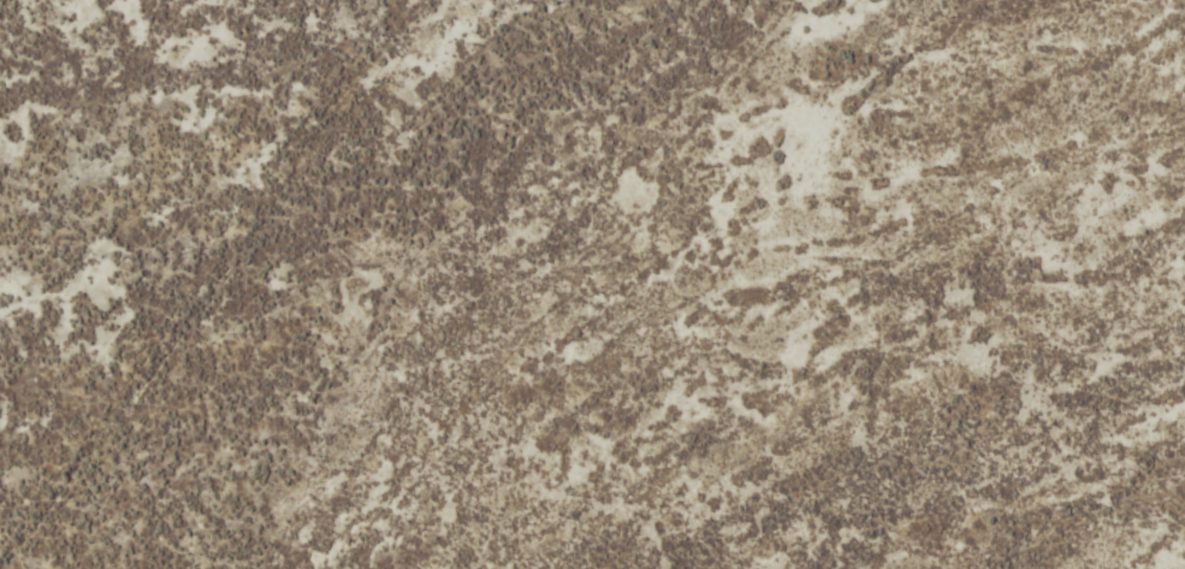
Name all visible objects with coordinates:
crop: (592, 284)

